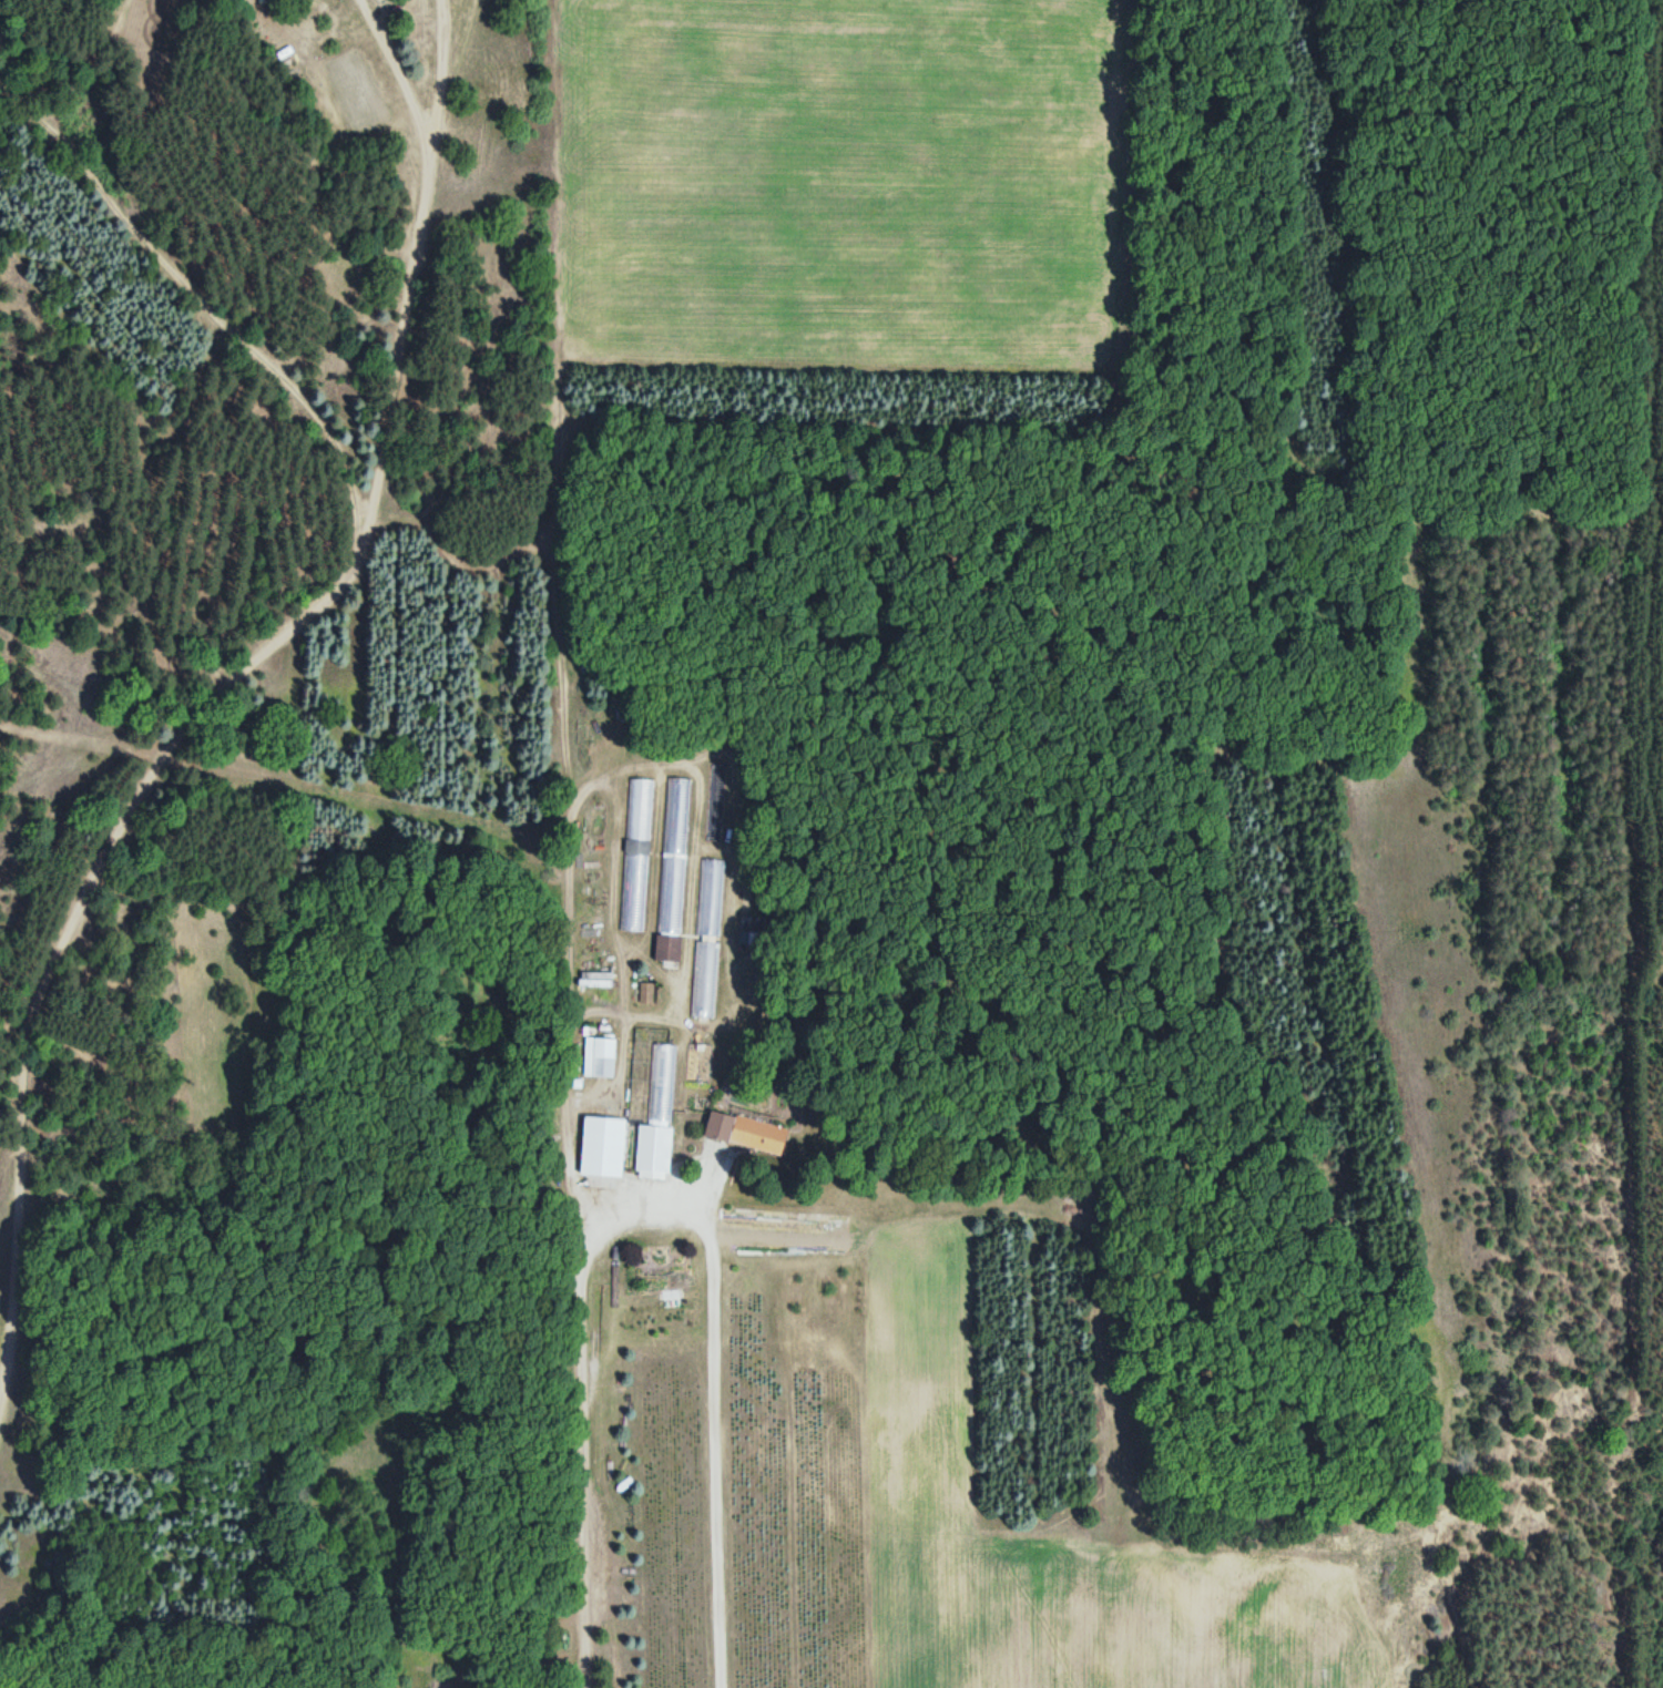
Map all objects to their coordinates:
road: (136, 68)
road: (182, 287)
road: (297, 448)
road: (257, 645)
building: (635, 855)
building: (672, 869)
building: (707, 939)
building: (593, 979)
building: (598, 1056)
building: (698, 1064)
building: (652, 1108)
building: (726, 1131)
building: (601, 1146)
road: (647, 1205)

